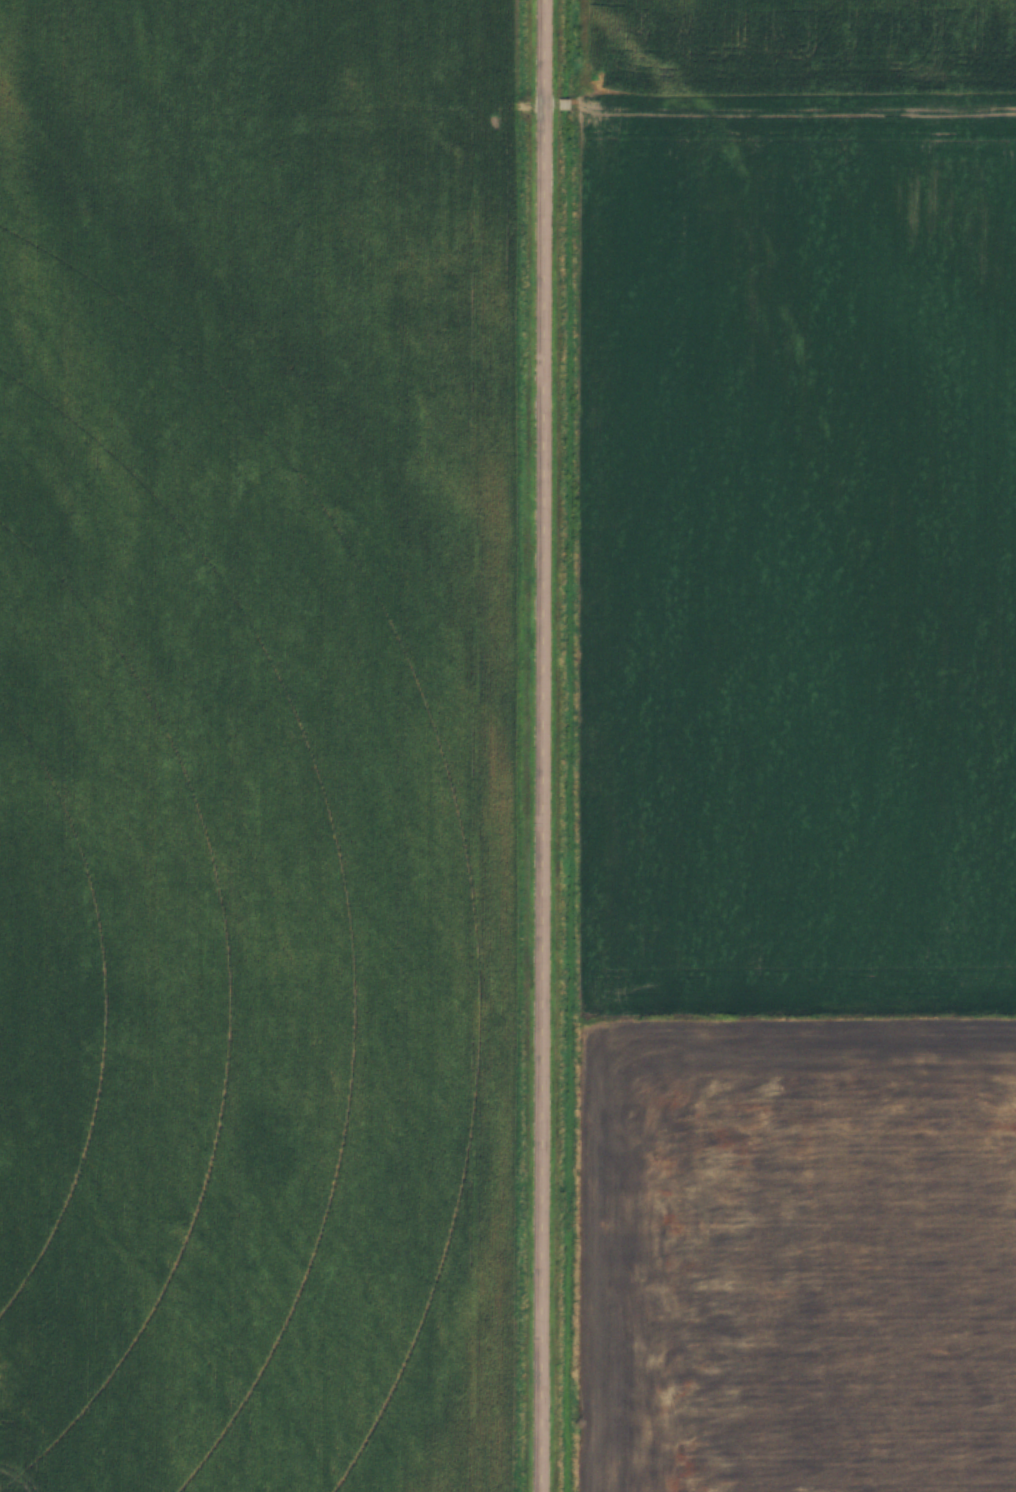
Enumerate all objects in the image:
road: (541, 746)

